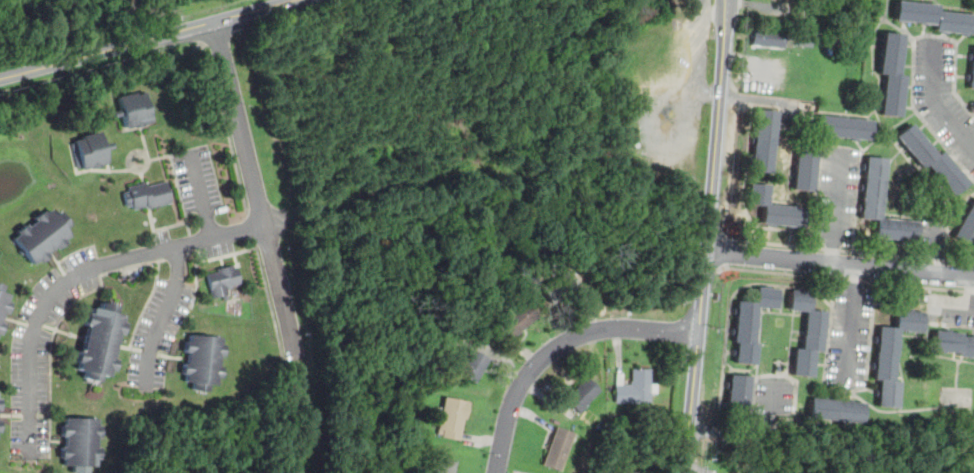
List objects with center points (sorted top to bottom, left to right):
building: (113, 0)
building: (782, 0)
building: (128, 9)
building: (935, 18)
road: (150, 39)
building: (769, 39)
road: (209, 41)
road: (913, 55)
road: (104, 70)
building: (893, 75)
building: (972, 77)
road: (757, 100)
road: (941, 106)
building: (136, 110)
building: (843, 128)
road: (227, 130)
building: (764, 142)
building: (90, 152)
building: (933, 159)
building: (807, 170)
road: (819, 182)
building: (874, 189)
road: (254, 192)
road: (204, 193)
building: (149, 196)
building: (774, 209)
road: (837, 210)
road: (252, 228)
building: (967, 231)
road: (707, 236)
building: (43, 237)
road: (722, 251)
road: (847, 252)
road: (207, 258)
road: (839, 266)
road: (74, 276)
road: (845, 279)
building: (223, 282)
building: (559, 288)
road: (270, 304)
building: (3, 306)
road: (163, 318)
building: (519, 320)
building: (752, 324)
road: (853, 328)
building: (809, 334)
building: (100, 342)
road: (828, 343)
building: (954, 344)
road: (559, 347)
building: (894, 355)
road: (901, 359)
building: (204, 360)
building: (473, 366)
building: (637, 389)
building: (583, 395)
building: (740, 397)
building: (0, 406)
building: (839, 411)
building: (408, 413)
building: (453, 418)
building: (0, 426)
road: (744, 431)
building: (82, 444)
building: (559, 450)
building: (442, 466)

